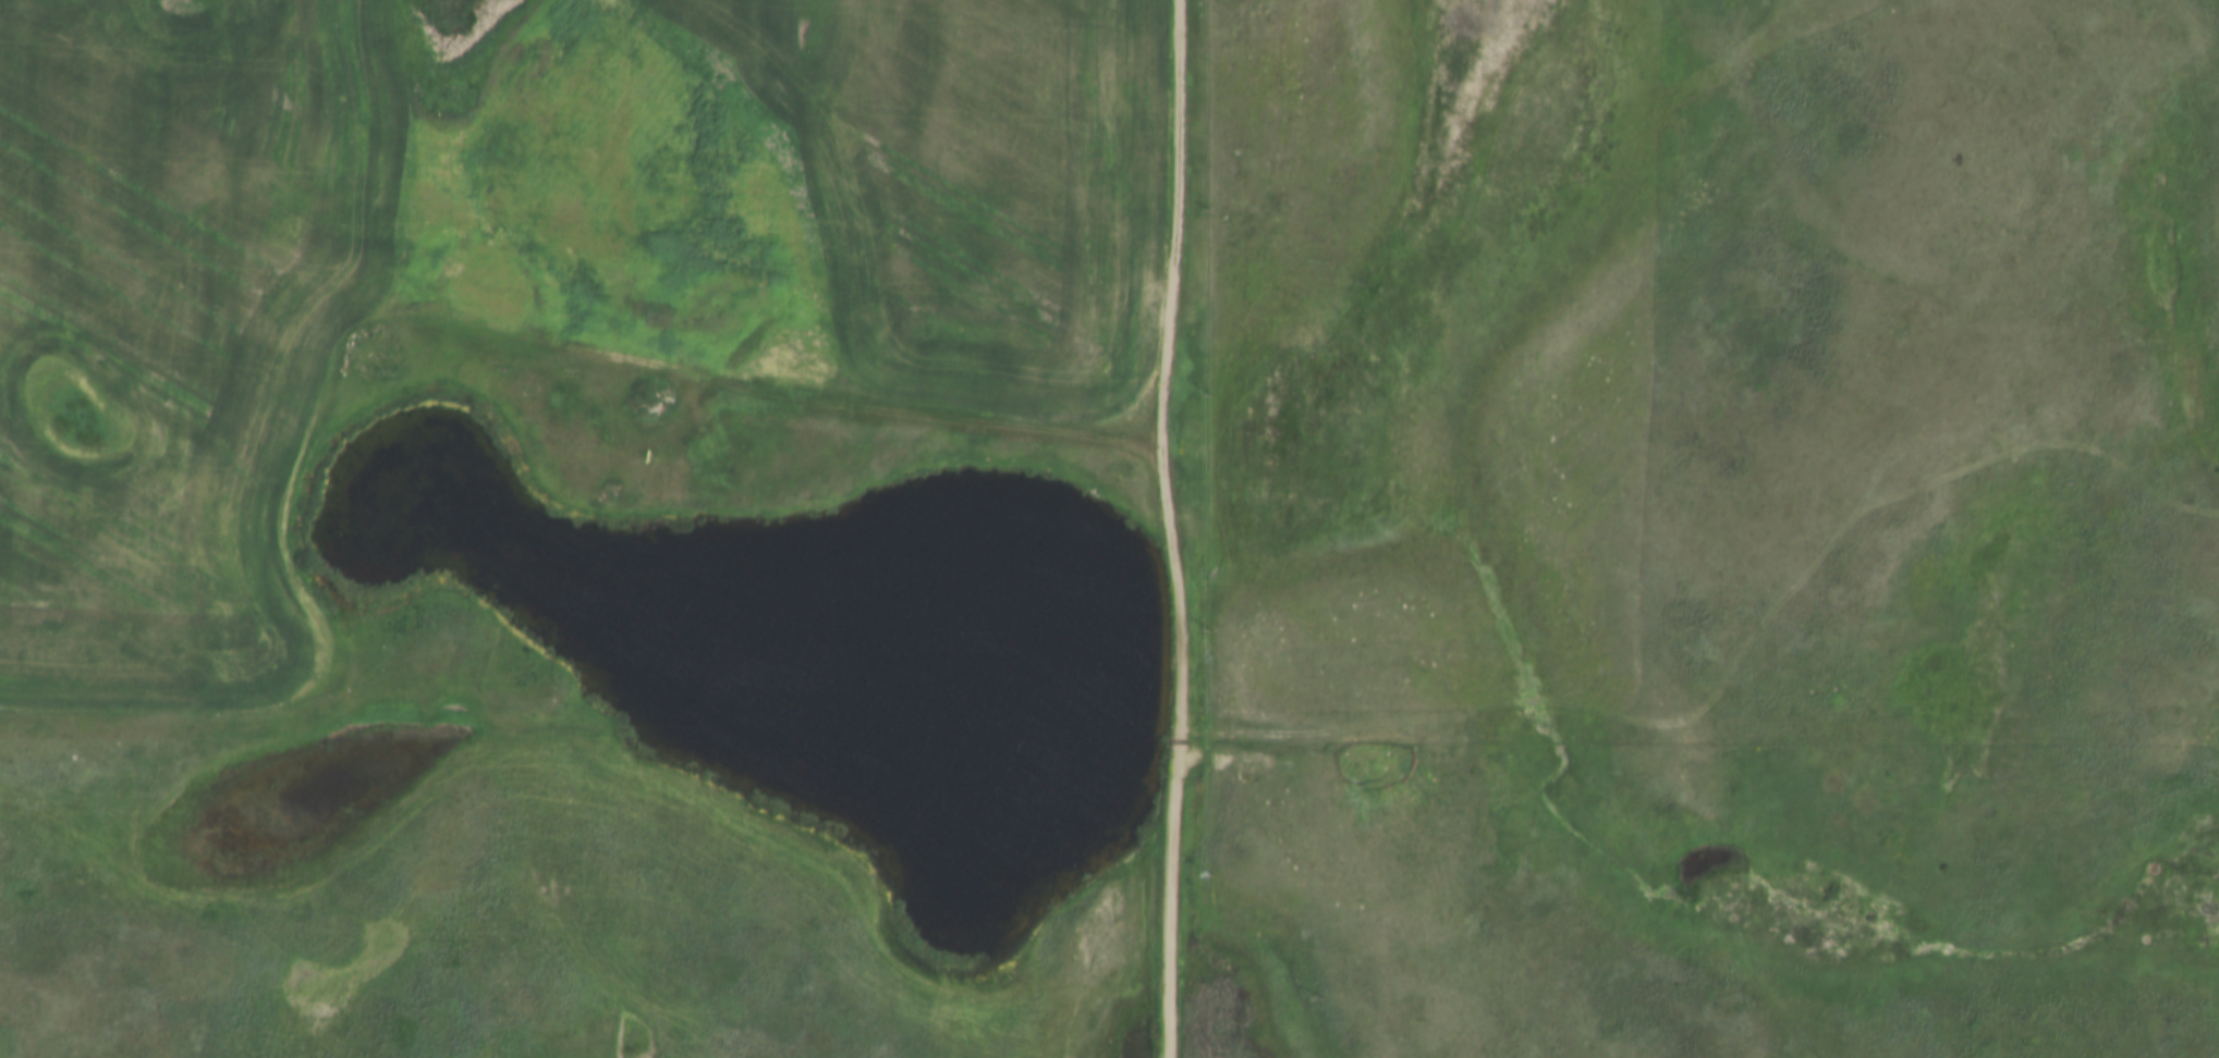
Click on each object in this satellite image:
road: (1170, 528)

